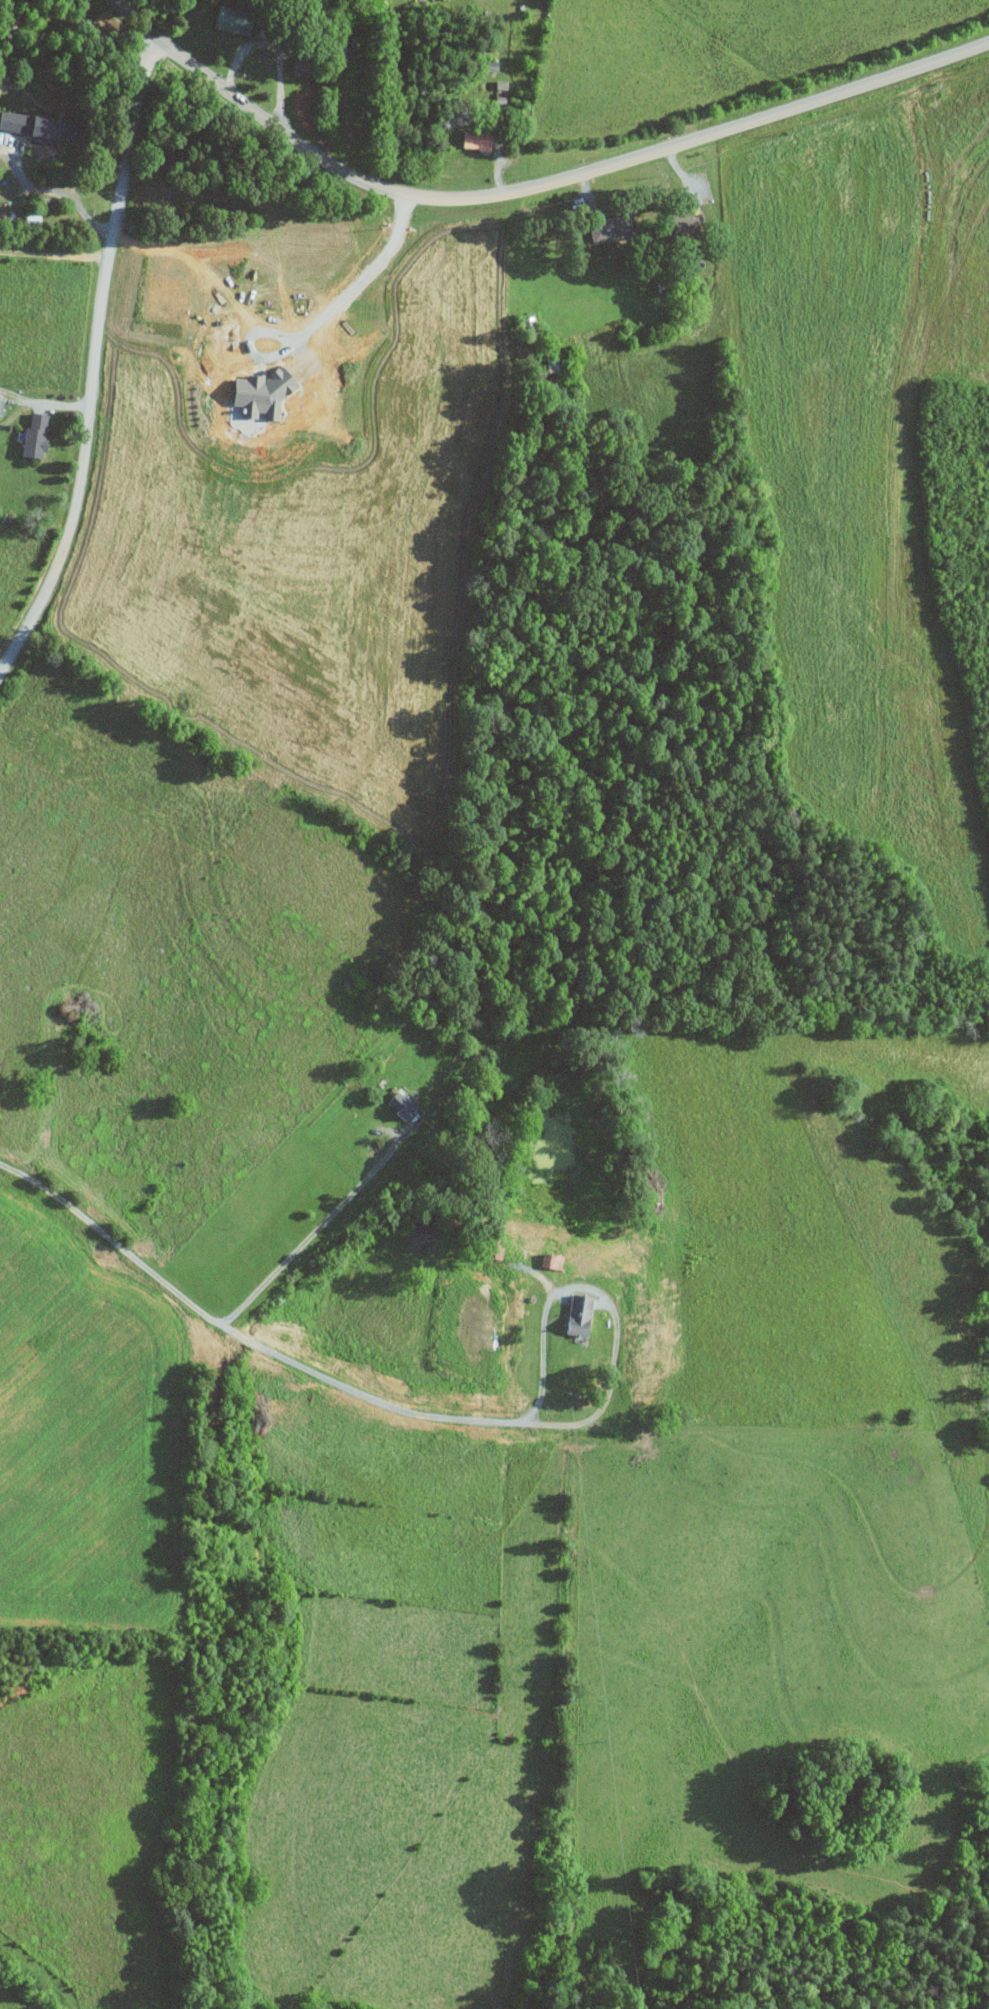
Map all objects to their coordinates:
building: (236, 19)
road: (9, 33)
road: (292, 42)
road: (283, 87)
building: (37, 125)
building: (481, 138)
road: (6, 151)
road: (530, 188)
road: (59, 192)
building: (614, 229)
road: (365, 274)
road: (90, 351)
building: (267, 392)
road: (40, 402)
building: (38, 433)
building: (404, 1104)
road: (318, 1228)
road: (605, 1299)
building: (582, 1316)
road: (242, 1335)

